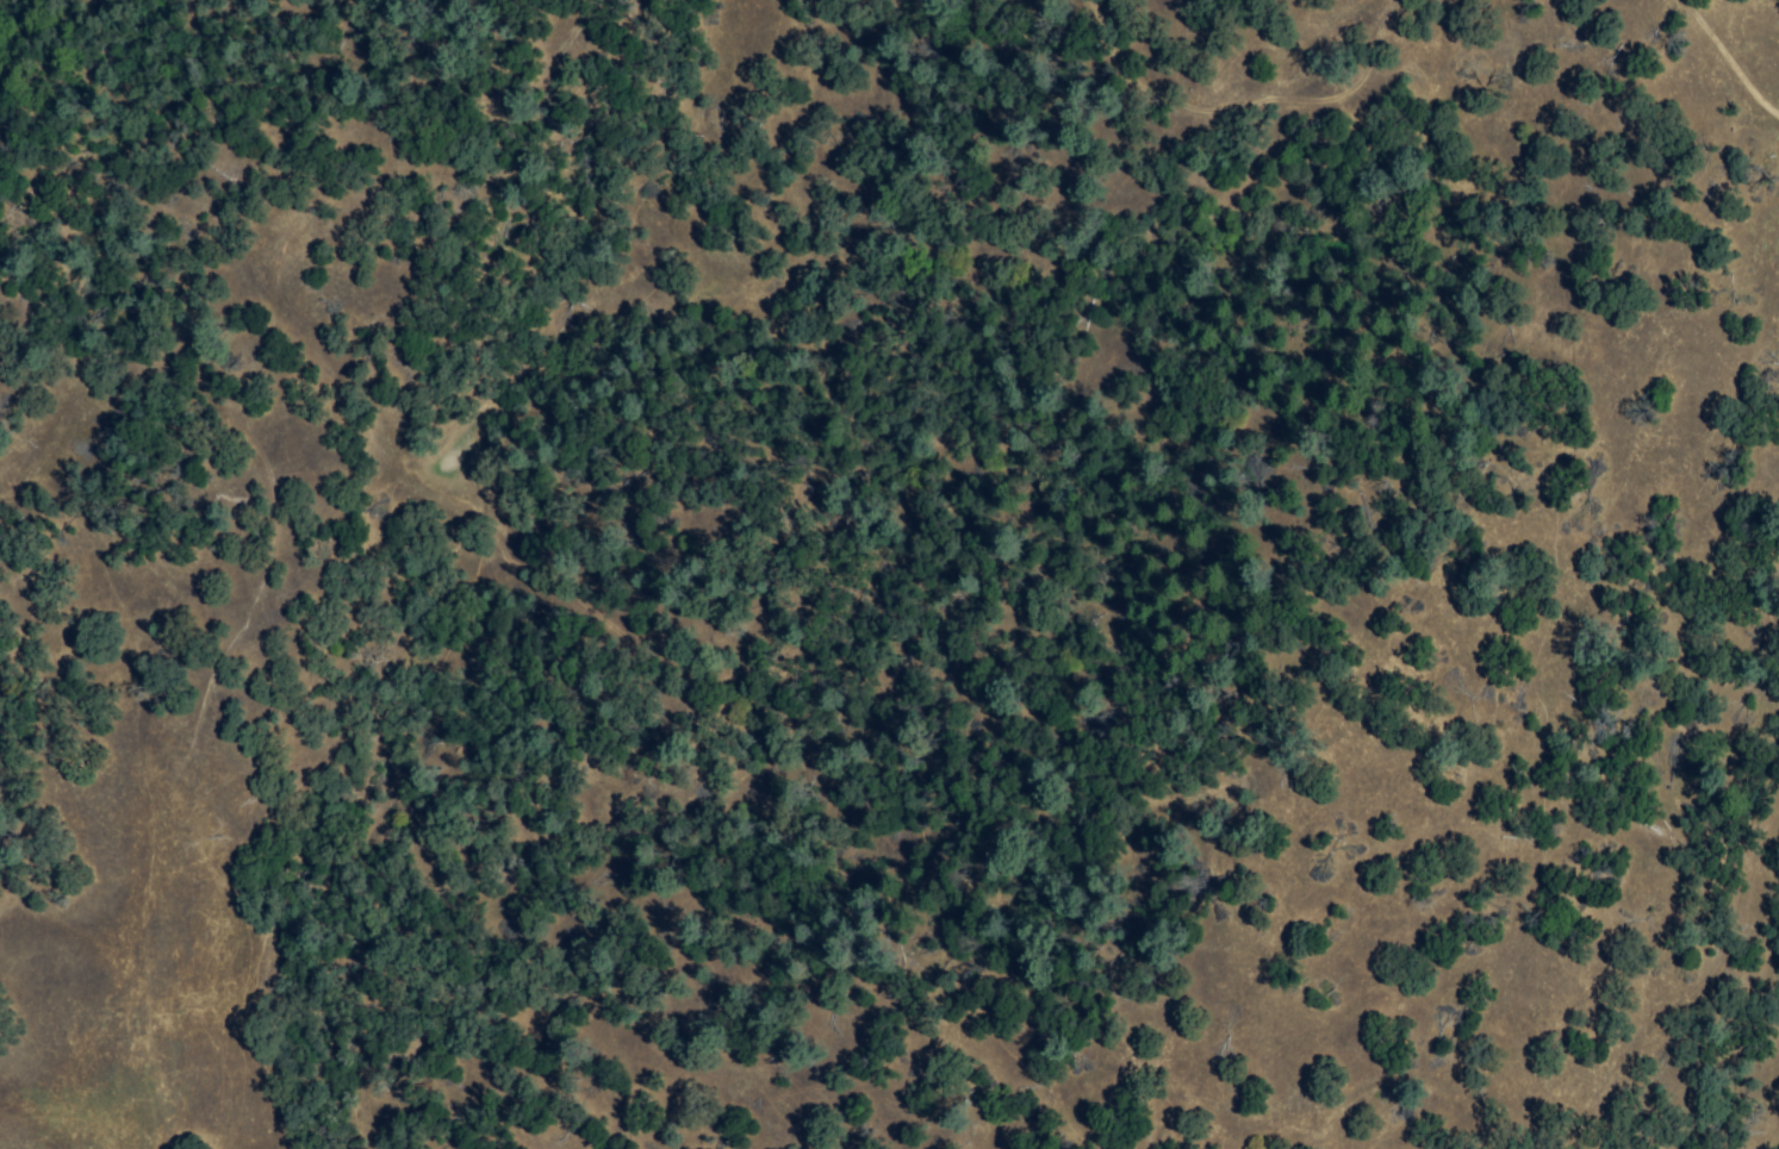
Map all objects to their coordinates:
road: (1725, 63)

